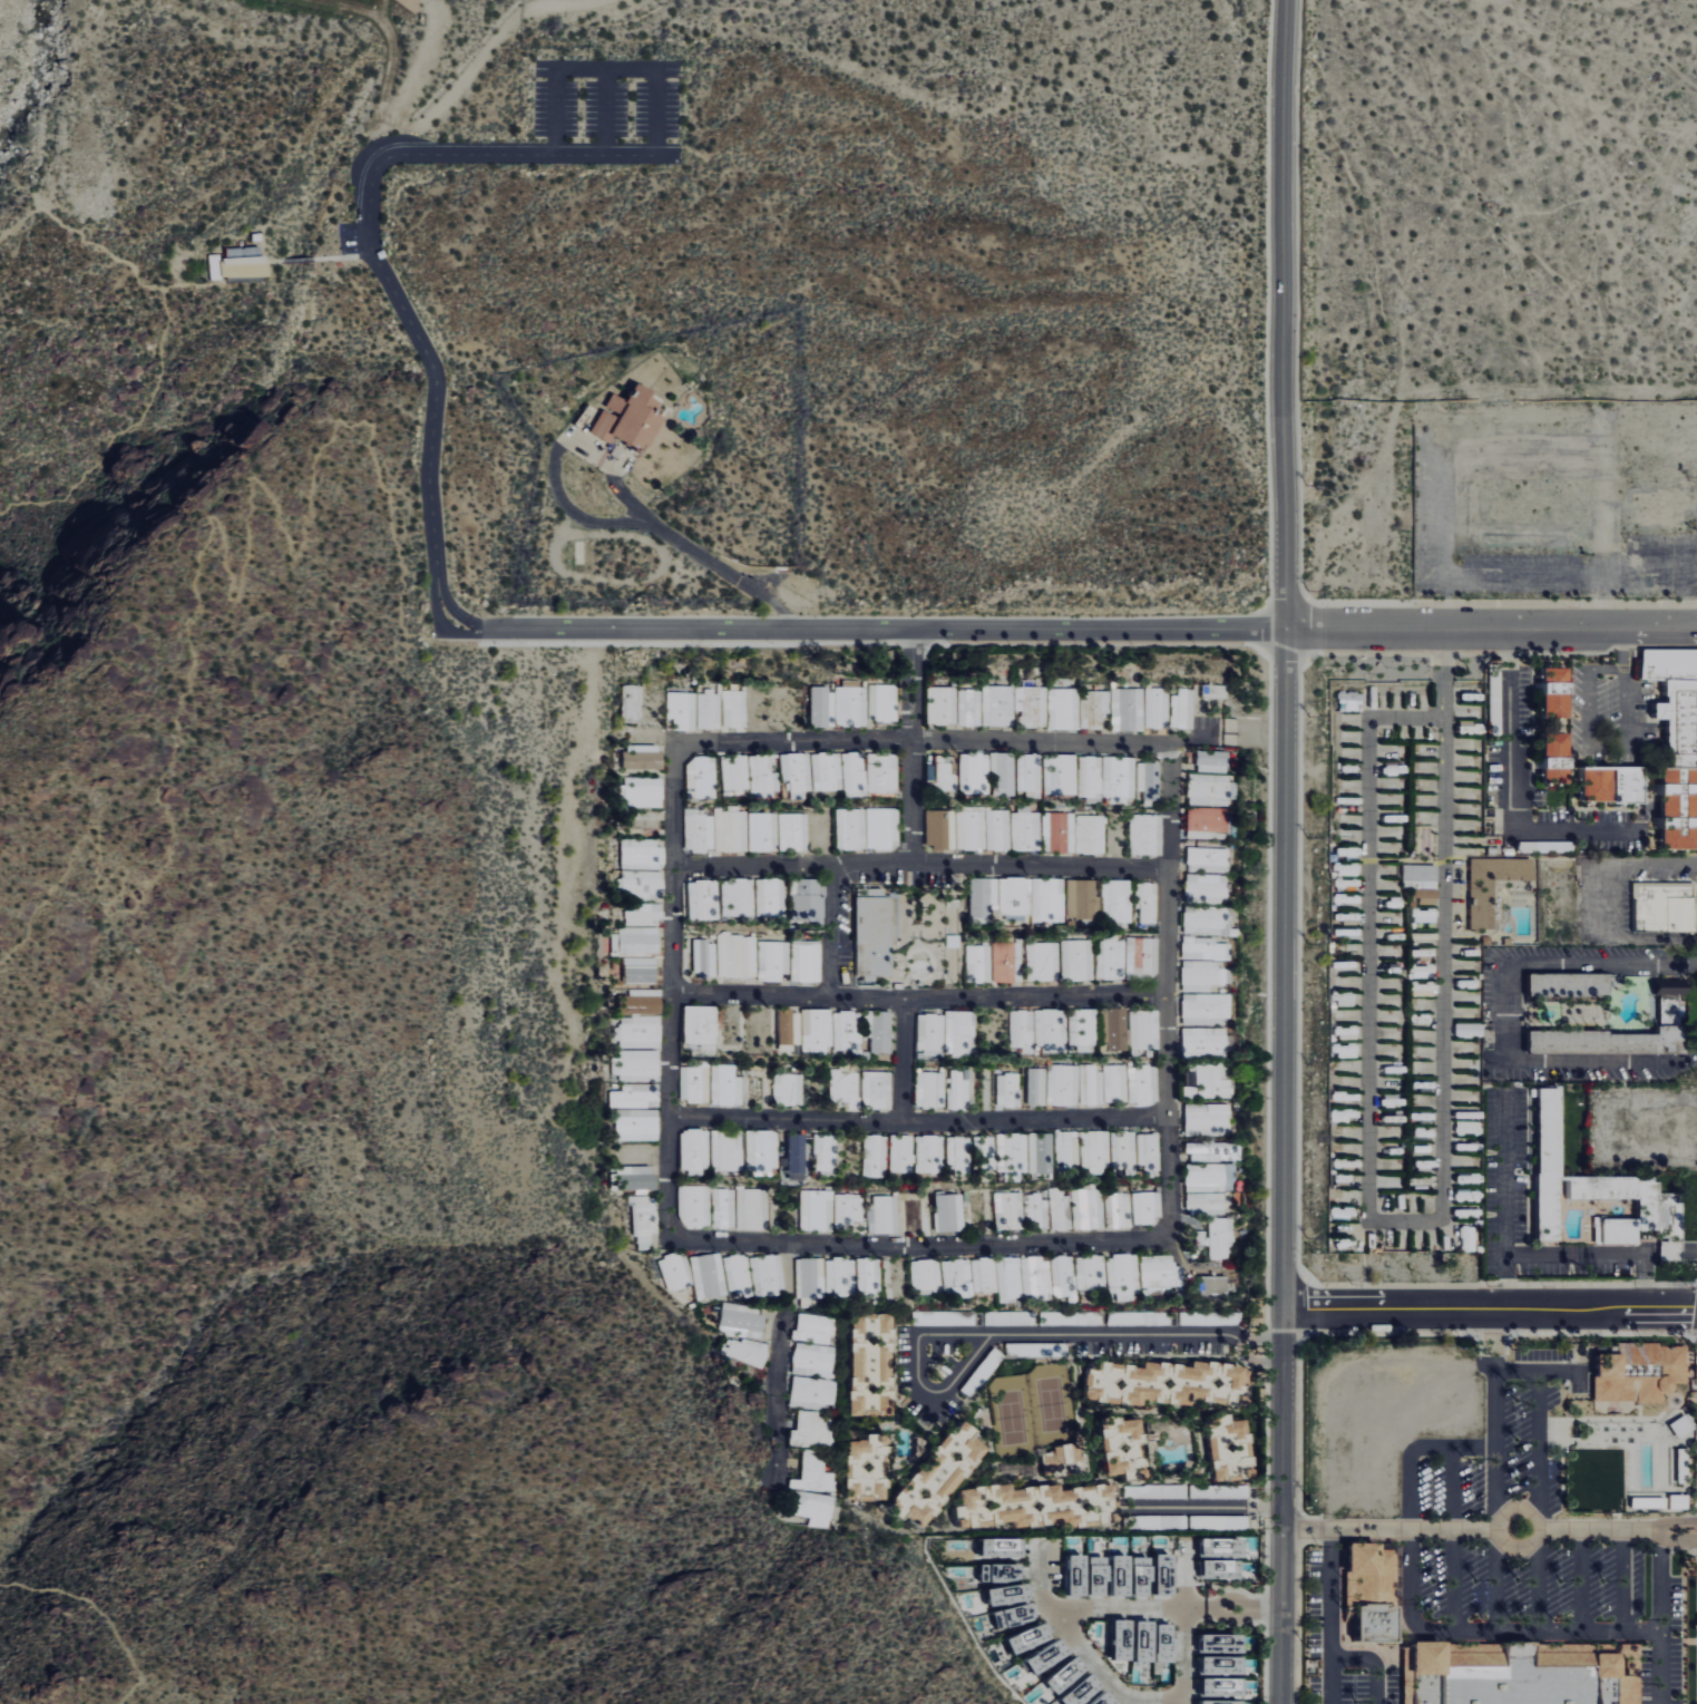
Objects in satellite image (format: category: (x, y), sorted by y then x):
parking lot: (604, 113)
road: (368, 231)
road: (105, 253)
road: (342, 257)
road: (296, 261)
road: (271, 262)
building: (234, 265)
road: (1282, 314)
building: (621, 420)
road: (120, 429)
road: (1621, 509)
road: (421, 517)
road: (607, 520)
road: (213, 532)
road: (1548, 572)
road: (453, 610)
road: (439, 626)
road: (1493, 629)
road: (890, 631)
road: (1623, 649)
road: (1438, 673)
building: (1545, 690)
building: (1215, 691)
building: (285, 694)
building: (633, 702)
building: (882, 702)
building: (850, 703)
building: (821, 704)
building: (942, 704)
building: (998, 705)
building: (1033, 705)
building: (971, 707)
building: (734, 708)
building: (1064, 708)
building: (1094, 708)
building: (1158, 708)
building: (1129, 709)
building: (1183, 709)
building: (683, 710)
building: (710, 710)
road: (919, 742)
road: (1591, 742)
road: (913, 748)
building: (645, 757)
building: (1543, 757)
building: (826, 770)
building: (735, 771)
building: (882, 771)
building: (797, 772)
building: (854, 772)
building: (975, 772)
building: (1028, 772)
building: (1003, 773)
building: (1060, 773)
building: (944, 775)
building: (702, 776)
building: (762, 776)
building: (1090, 778)
building: (1119, 778)
building: (1148, 782)
building: (1605, 783)
building: (1211, 789)
road: (1510, 790)
building: (643, 791)
building: (1669, 806)
building: (1208, 818)
building: (643, 822)
building: (882, 827)
building: (851, 828)
building: (939, 828)
building: (730, 829)
building: (972, 829)
building: (998, 829)
building: (1025, 829)
building: (699, 830)
building: (762, 831)
building: (793, 831)
building: (1090, 834)
building: (1144, 835)
building: (641, 853)
road: (920, 865)
building: (1418, 876)
building: (1488, 885)
building: (1205, 887)
building: (984, 895)
building: (1014, 895)
building: (1423, 895)
building: (769, 896)
building: (735, 897)
building: (702, 898)
building: (1080, 898)
building: (807, 899)
building: (1047, 899)
building: (1116, 899)
road: (1607, 900)
building: (1148, 902)
building: (1661, 908)
building: (644, 913)
building: (1424, 915)
building: (1205, 919)
road: (831, 931)
building: (876, 936)
building: (635, 939)
building: (1203, 948)
building: (738, 955)
building: (1141, 956)
building: (1110, 957)
building: (705, 958)
building: (773, 960)
building: (1076, 960)
building: (807, 961)
building: (1042, 961)
building: (979, 963)
building: (1005, 963)
building: (641, 968)
building: (1199, 975)
building: (1563, 985)
road: (1169, 991)
road: (672, 993)
road: (919, 999)
building: (641, 1001)
building: (1206, 1005)
road: (1508, 1014)
building: (700, 1024)
building: (789, 1026)
building: (1051, 1026)
building: (1022, 1028)
building: (1115, 1028)
building: (817, 1029)
building: (1082, 1029)
building: (847, 1030)
building: (878, 1030)
building: (1145, 1030)
building: (640, 1031)
building: (958, 1032)
building: (1616, 1036)
building: (929, 1038)
building: (1206, 1061)
road: (903, 1062)
building: (638, 1065)
building: (696, 1082)
building: (1091, 1083)
building: (1115, 1083)
building: (1063, 1084)
building: (1139, 1084)
building: (728, 1085)
building: (1036, 1085)
building: (790, 1089)
building: (845, 1089)
building: (930, 1089)
building: (877, 1090)
building: (958, 1090)
building: (1008, 1090)
building: (637, 1096)
building: (1206, 1118)
building: (633, 1123)
road: (920, 1123)
building: (1066, 1149)
building: (1095, 1149)
building: (1123, 1149)
building: (696, 1150)
building: (1148, 1150)
building: (729, 1151)
building: (763, 1151)
building: (1040, 1152)
building: (797, 1153)
building: (826, 1153)
building: (901, 1153)
building: (929, 1153)
building: (986, 1155)
building: (875, 1156)
building: (959, 1156)
building: (1011, 1156)
building: (1543, 1163)
building: (1211, 1166)
road: (1285, 1166)
road: (1504, 1171)
building: (631, 1180)
building: (1209, 1200)
building: (698, 1206)
building: (1147, 1206)
building: (1656, 1207)
building: (726, 1208)
building: (849, 1208)
building: (755, 1209)
building: (817, 1209)
building: (1118, 1209)
building: (1008, 1210)
building: (1086, 1210)
building: (949, 1211)
building: (1036, 1211)
building: (884, 1215)
building: (642, 1219)
road: (1442, 1223)
building: (1219, 1237)
road: (919, 1247)
road: (1667, 1249)
road: (1687, 1249)
road: (1649, 1250)
road: (1543, 1253)
building: (672, 1269)
building: (925, 1274)
building: (982, 1274)
building: (1089, 1274)
building: (704, 1275)
building: (734, 1275)
building: (840, 1275)
building: (868, 1275)
building: (763, 1276)
building: (956, 1276)
building: (1062, 1276)
building: (1121, 1276)
building: (1034, 1277)
building: (1007, 1278)
building: (810, 1279)
road: (1644, 1283)
building: (1211, 1284)
road: (1490, 1312)
building: (740, 1320)
building: (811, 1327)
road: (1028, 1335)
building: (743, 1354)
building: (810, 1360)
road: (780, 1361)
building: (867, 1364)
road: (1539, 1372)
building: (1636, 1372)
building: (1164, 1382)
building: (809, 1392)
building: (809, 1430)
road: (1480, 1447)
building: (1120, 1448)
building: (1227, 1448)
building: (1060, 1460)
building: (864, 1468)
building: (810, 1473)
building: (936, 1476)
road: (1539, 1502)
building: (1642, 1502)
building: (1671, 1502)
building: (808, 1506)
building: (1035, 1506)
road: (1205, 1507)
road: (1678, 1521)
road: (1474, 1528)
road: (1676, 1538)
road: (1453, 1540)
road: (1495, 1540)
building: (1118, 1548)
building: (992, 1550)
building: (1213, 1550)
building: (1099, 1569)
building: (1212, 1571)
building: (1164, 1574)
building: (992, 1575)
building: (1077, 1575)
building: (1122, 1575)
building: (1143, 1576)
building: (1155, 1577)
building: (1065, 1578)
building: (1089, 1579)
building: (1111, 1579)
building: (1133, 1579)
road: (1582, 1580)
road: (1623, 1580)
building: (1368, 1593)
building: (998, 1598)
road: (1134, 1608)
road: (97, 1613)
road: (1329, 1616)
building: (1006, 1618)
road: (1539, 1634)
building: (1123, 1639)
building: (1020, 1643)
building: (1222, 1643)
building: (1111, 1644)
building: (1133, 1646)
building: (1155, 1647)
road: (1183, 1654)
building: (1049, 1656)
road: (1373, 1662)
building: (1222, 1665)
road: (1661, 1668)
building: (1520, 1674)
road: (1105, 1675)
building: (1074, 1682)
building: (1223, 1686)
building: (1104, 1698)
building: (1221, 1702)

